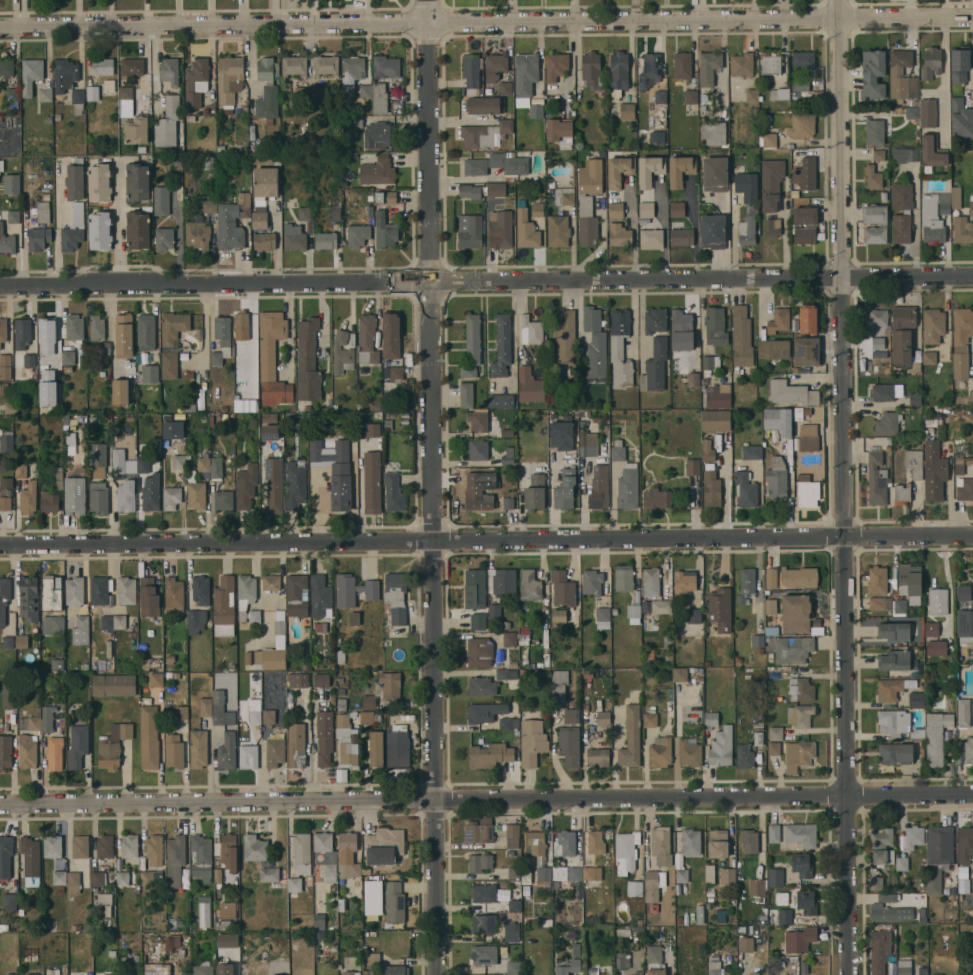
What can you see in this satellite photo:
road: (943, 8)
road: (573, 10)
road: (634, 10)
road: (512, 11)
road: (242, 12)
road: (486, 22)
building: (803, 60)
building: (931, 63)
building: (741, 64)
building: (770, 64)
building: (960, 64)
building: (326, 65)
building: (682, 65)
building: (102, 66)
building: (132, 66)
building: (294, 66)
building: (556, 66)
building: (6, 67)
building: (353, 67)
building: (495, 67)
building: (709, 67)
building: (387, 68)
building: (267, 69)
building: (591, 70)
building: (170, 71)
building: (649, 71)
building: (472, 73)
building: (31, 74)
building: (618, 74)
building: (873, 74)
building: (65, 75)
building: (902, 76)
road: (944, 76)
building: (230, 78)
building: (196, 82)
building: (527, 82)
building: (297, 83)
building: (802, 84)
building: (109, 85)
building: (506, 88)
building: (365, 91)
building: (301, 92)
building: (92, 93)
building: (126, 93)
building: (320, 93)
building: (45, 94)
building: (779, 94)
building: (752, 96)
building: (660, 97)
building: (691, 97)
building: (13, 98)
building: (379, 98)
building: (78, 101)
building: (266, 104)
building: (484, 105)
building: (793, 105)
building: (703, 108)
building: (205, 111)
building: (229, 111)
building: (627, 111)
building: (756, 111)
building: (912, 111)
building: (347, 112)
building: (928, 113)
building: (57, 116)
building: (190, 118)
building: (659, 118)
building: (961, 118)
building: (168, 122)
building: (352, 122)
building: (802, 126)
building: (136, 129)
building: (560, 132)
building: (874, 132)
building: (714, 133)
building: (483, 134)
building: (379, 135)
building: (767, 141)
building: (179, 151)
building: (932, 153)
building: (567, 155)
building: (879, 155)
building: (904, 155)
building: (198, 158)
building: (177, 160)
building: (498, 164)
building: (680, 169)
building: (650, 170)
building: (377, 171)
building: (619, 171)
building: (807, 172)
building: (715, 174)
building: (873, 177)
building: (75, 179)
building: (137, 181)
building: (100, 182)
building: (265, 182)
building: (12, 184)
building: (771, 184)
building: (496, 189)
building: (187, 190)
building: (750, 190)
building: (470, 191)
building: (564, 196)
building: (884, 196)
building: (370, 197)
building: (385, 197)
building: (956, 197)
building: (162, 200)
building: (588, 201)
building: (944, 203)
building: (244, 204)
building: (971, 204)
building: (208, 206)
building: (646, 209)
building: (677, 209)
building: (538, 210)
building: (615, 210)
building: (43, 212)
building: (78, 212)
building: (906, 212)
building: (304, 213)
building: (805, 215)
building: (14, 216)
building: (259, 220)
building: (931, 220)
building: (883, 225)
building: (748, 226)
building: (772, 227)
road: (119, 228)
building: (229, 228)
building: (526, 228)
road: (633, 229)
road: (664, 229)
building: (962, 229)
building: (100, 230)
building: (138, 230)
building: (501, 230)
building: (385, 231)
building: (470, 231)
building: (558, 231)
building: (712, 231)
building: (197, 234)
building: (358, 235)
building: (619, 235)
building: (804, 236)
building: (294, 237)
building: (682, 237)
building: (38, 238)
building: (71, 238)
building: (164, 238)
building: (651, 239)
building: (6, 240)
building: (265, 240)
building: (326, 240)
road: (277, 244)
road: (486, 282)
building: (592, 318)
building: (808, 318)
building: (242, 319)
building: (876, 319)
building: (655, 320)
building: (778, 320)
building: (933, 325)
building: (46, 326)
building: (715, 326)
building: (74, 327)
building: (97, 327)
building: (3, 330)
building: (146, 331)
building: (531, 331)
building: (681, 331)
building: (22, 333)
building: (124, 334)
building: (199, 334)
building: (238, 336)
building: (390, 337)
building: (741, 337)
building: (903, 337)
building: (221, 339)
building: (961, 341)
building: (172, 342)
building: (565, 342)
building: (878, 343)
building: (366, 344)
building: (502, 346)
building: (471, 347)
building: (105, 348)
building: (620, 348)
building: (774, 349)
building: (806, 351)
building: (342, 353)
building: (59, 355)
building: (68, 357)
building: (597, 357)
building: (929, 357)
building: (272, 358)
building: (30, 360)
building: (308, 361)
building: (711, 361)
building: (655, 366)
building: (5, 367)
building: (54, 371)
building: (886, 371)
building: (393, 373)
building: (708, 373)
building: (150, 374)
building: (190, 375)
building: (693, 379)
building: (404, 381)
building: (32, 385)
building: (529, 385)
building: (3, 388)
building: (193, 390)
building: (120, 391)
building: (886, 391)
building: (791, 392)
building: (466, 395)
building: (717, 396)
building: (970, 397)
building: (915, 399)
building: (500, 400)
building: (253, 404)
building: (389, 404)
building: (370, 405)
building: (189, 407)
building: (306, 407)
building: (11, 408)
building: (335, 408)
building: (223, 410)
building: (404, 414)
building: (798, 415)
building: (107, 417)
building: (130, 417)
building: (203, 418)
building: (294, 418)
building: (92, 420)
building: (404, 420)
building: (478, 420)
building: (715, 420)
building: (779, 420)
building: (887, 423)
building: (173, 429)
building: (369, 429)
building: (270, 432)
building: (507, 432)
building: (561, 435)
building: (807, 438)
building: (6, 441)
building: (237, 445)
building: (588, 445)
building: (279, 448)
building: (478, 450)
building: (617, 450)
building: (708, 451)
building: (752, 451)
building: (508, 456)
building: (97, 460)
building: (969, 460)
building: (179, 462)
building: (914, 462)
building: (203, 463)
building: (2, 465)
building: (125, 465)
building: (959, 465)
building: (143, 466)
building: (692, 466)
building: (216, 468)
building: (334, 469)
building: (21, 470)
building: (934, 471)
building: (55, 475)
building: (876, 478)
building: (777, 479)
building: (6, 482)
building: (372, 482)
building: (296, 484)
building: (274, 485)
building: (246, 486)
building: (628, 486)
road: (431, 487)
road: (843, 487)
building: (599, 488)
building: (964, 488)
building: (712, 489)
building: (746, 489)
building: (393, 491)
building: (807, 491)
building: (151, 492)
building: (195, 492)
building: (535, 492)
building: (902, 494)
building: (75, 495)
building: (126, 495)
building: (28, 496)
building: (98, 497)
building: (171, 497)
building: (478, 498)
building: (564, 498)
building: (656, 498)
building: (224, 499)
building: (49, 501)
building: (508, 502)
building: (5, 503)
road: (486, 543)
building: (799, 577)
building: (624, 578)
building: (771, 579)
building: (877, 579)
building: (502, 581)
building: (651, 581)
building: (684, 581)
building: (271, 582)
building: (592, 582)
building: (909, 582)
building: (530, 585)
building: (747, 585)
building: (475, 586)
building: (200, 587)
building: (51, 588)
building: (562, 588)
building: (75, 590)
building: (99, 590)
building: (126, 590)
building: (354, 590)
building: (963, 593)
building: (174, 594)
building: (297, 595)
building: (396, 596)
building: (149, 597)
building: (320, 597)
building: (4, 598)
building: (29, 598)
building: (247, 599)
building: (938, 601)
building: (880, 602)
building: (770, 606)
building: (224, 607)
building: (661, 607)
building: (900, 607)
building: (719, 608)
building: (635, 610)
building: (495, 611)
building: (614, 611)
building: (796, 613)
building: (556, 615)
building: (694, 616)
building: (603, 617)
building: (354, 618)
building: (124, 621)
building: (197, 621)
building: (478, 621)
building: (107, 622)
building: (53, 624)
building: (506, 624)
building: (546, 625)
building: (965, 626)
building: (318, 627)
building: (931, 629)
building: (81, 630)
building: (771, 631)
building: (894, 632)
building: (524, 636)
building: (546, 637)
building: (768, 637)
building: (134, 640)
building: (510, 640)
building: (22, 641)
building: (338, 641)
building: (8, 642)
building: (758, 642)
building: (184, 644)
building: (276, 645)
building: (936, 647)
building: (93, 648)
building: (793, 649)
building: (480, 652)
building: (525, 653)
building: (341, 656)
building: (649, 656)
building: (248, 657)
building: (258, 657)
building: (170, 658)
building: (738, 660)
building: (894, 660)
building: (525, 661)
building: (148, 663)
building: (708, 663)
building: (57, 664)
building: (305, 665)
building: (86, 666)
building: (231, 666)
building: (110, 669)
building: (523, 673)
building: (507, 674)
building: (594, 674)
building: (680, 674)
building: (169, 675)
building: (176, 675)
building: (948, 675)
building: (156, 679)
building: (297, 680)
building: (321, 680)
building: (113, 685)
building: (559, 685)
building: (482, 686)
building: (383, 689)
building: (801, 689)
building: (893, 689)
building: (8, 692)
building: (341, 692)
building: (917, 700)
building: (241, 701)
building: (341, 701)
building: (206, 707)
building: (38, 711)
building: (255, 711)
building: (182, 712)
building: (484, 712)
building: (964, 712)
building: (244, 714)
building: (222, 715)
building: (800, 715)
building: (269, 716)
building: (571, 716)
building: (370, 717)
building: (650, 717)
building: (710, 717)
building: (48, 718)
building: (758, 721)
building: (62, 722)
building: (893, 722)
building: (30, 723)
building: (509, 724)
building: (1, 727)
building: (589, 727)
building: (776, 733)
building: (916, 733)
building: (149, 737)
building: (936, 737)
building: (324, 738)
building: (631, 738)
building: (758, 738)
building: (347, 741)
building: (532, 742)
building: (113, 745)
building: (296, 745)
building: (397, 745)
building: (78, 746)
building: (569, 746)
building: (721, 747)
building: (198, 748)
building: (376, 748)
building: (5, 751)
building: (27, 751)
building: (173, 751)
building: (227, 751)
building: (969, 751)
building: (275, 752)
building: (660, 752)
building: (690, 752)
building: (55, 753)
building: (793, 753)
building: (896, 753)
building: (960, 753)
building: (490, 755)
building: (248, 756)
building: (745, 756)
building: (598, 757)
road: (486, 799)
building: (497, 827)
building: (479, 831)
building: (774, 833)
building: (801, 834)
building: (512, 835)
building: (749, 840)
building: (690, 841)
building: (385, 842)
building: (596, 842)
building: (565, 843)
building: (537, 844)
building: (659, 844)
building: (718, 844)
building: (965, 844)
building: (881, 845)
building: (940, 845)
building: (53, 846)
building: (80, 846)
building: (105, 846)
building: (129, 846)
building: (908, 847)
building: (255, 848)
building: (154, 849)
building: (227, 851)
building: (626, 852)
building: (327, 854)
building: (302, 855)
building: (5, 856)
building: (348, 856)
building: (201, 857)
building: (175, 859)
building: (31, 860)
building: (480, 862)
building: (802, 865)
building: (366, 871)
building: (972, 872)
building: (513, 873)
building: (544, 873)
building: (559, 873)
building: (575, 873)
building: (709, 873)
building: (217, 875)
building: (682, 875)
building: (775, 875)
building: (274, 876)
building: (591, 876)
building: (727, 876)
building: (60, 877)
building: (151, 877)
building: (98, 878)
building: (123, 878)
building: (934, 881)
building: (74, 882)
building: (877, 883)
building: (654, 884)
building: (219, 885)
building: (295, 885)
building: (756, 887)
building: (137, 888)
building: (333, 888)
building: (634, 888)
building: (484, 893)
building: (711, 893)
building: (515, 894)
building: (888, 897)
building: (372, 898)
building: (9, 901)
building: (394, 902)
building: (807, 902)
building: (342, 905)
building: (514, 905)
building: (653, 907)
building: (701, 907)
building: (227, 910)
building: (22, 911)
building: (204, 911)
building: (890, 913)
building: (972, 913)
building: (922, 915)
building: (720, 916)
building: (785, 916)
building: (319, 919)
building: (545, 922)
building: (180, 923)
building: (484, 924)
building: (222, 925)
building: (4, 927)
building: (638, 928)
building: (511, 932)
building: (623, 932)
building: (319, 934)
building: (121, 936)
building: (96, 939)
building: (800, 939)
building: (227, 940)
building: (172, 942)
building: (745, 944)
building: (576, 949)
building: (34, 950)
building: (27, 951)
building: (880, 951)
building: (112, 952)
building: (181, 952)
building: (654, 953)
building: (484, 954)
building: (27, 957)
building: (35, 957)
building: (263, 957)
building: (373, 959)
building: (136, 960)
building: (623, 960)
building: (155, 963)
building: (904, 965)
building: (203, 967)
building: (514, 967)
building: (568, 967)
building: (804, 967)
building: (64, 968)
building: (224, 968)
building: (716, 968)
building: (923, 968)
building: (655, 969)
building: (396, 970)
building: (607, 970)
building: (31, 971)
building: (50, 971)
building: (372, 971)
building: (366, 972)
building: (638, 972)
building: (64, 973)
building: (110, 973)
building: (350, 973)
building: (755, 973)
building: (12, 974)
building: (285, 974)

